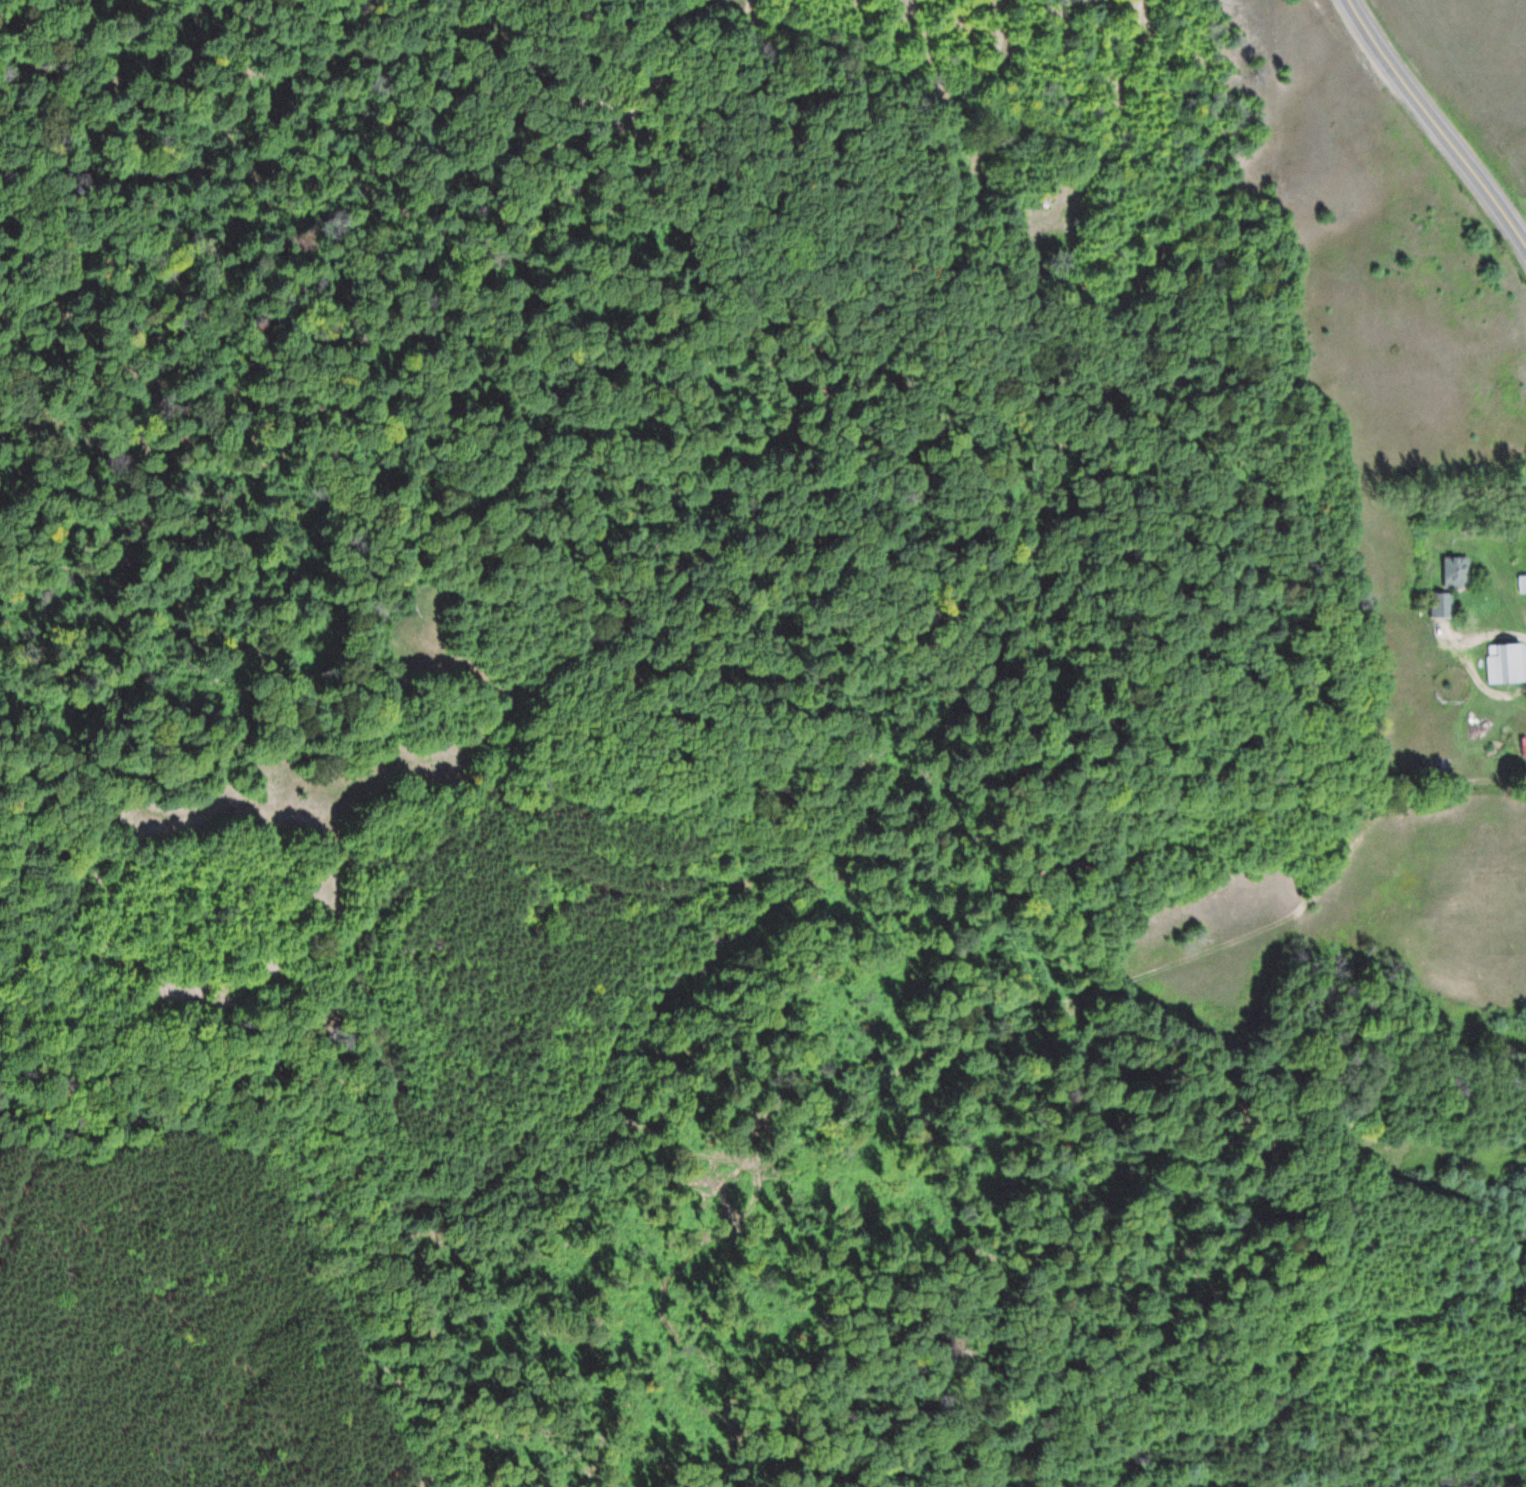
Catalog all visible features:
road: (1434, 126)
building: (1456, 570)
building: (1522, 582)
building: (1506, 663)

